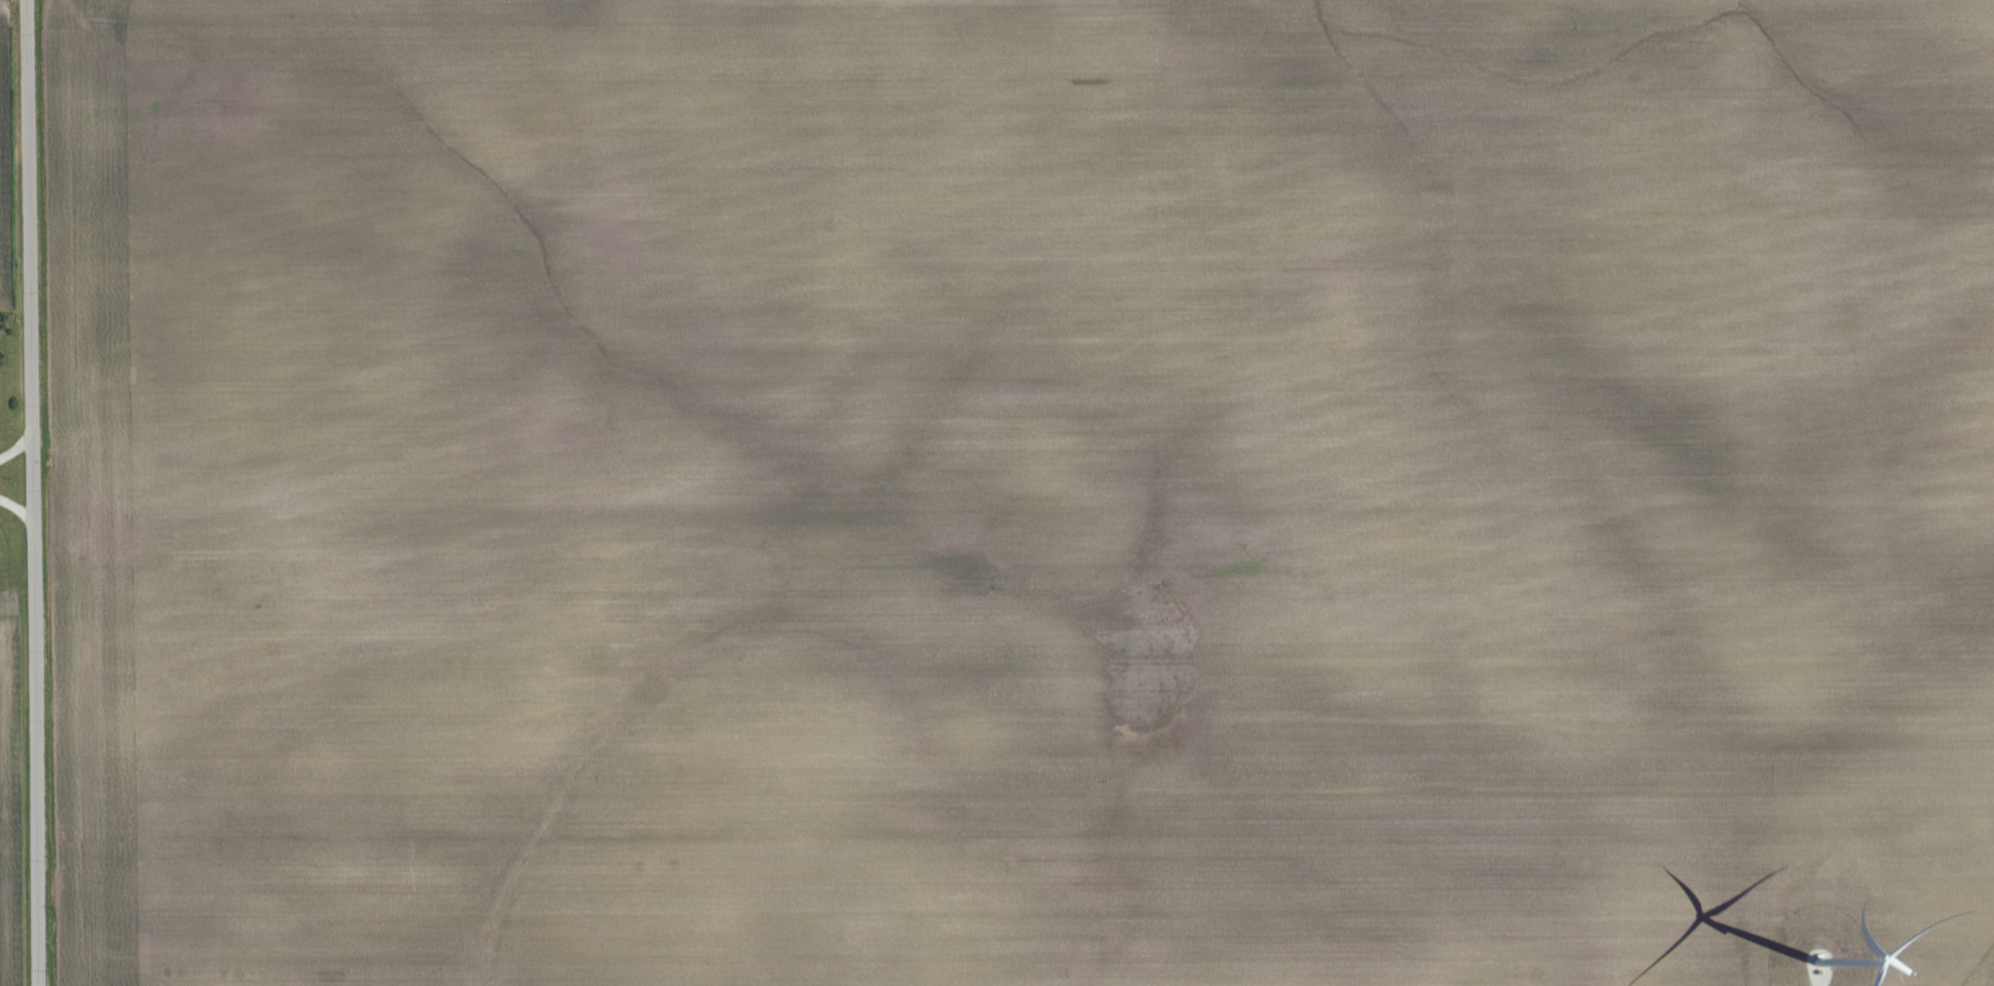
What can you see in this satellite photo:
road: (15, 449)
road: (30, 493)
road: (15, 508)
wind turbine: (1820, 963)
road: (1821, 982)

